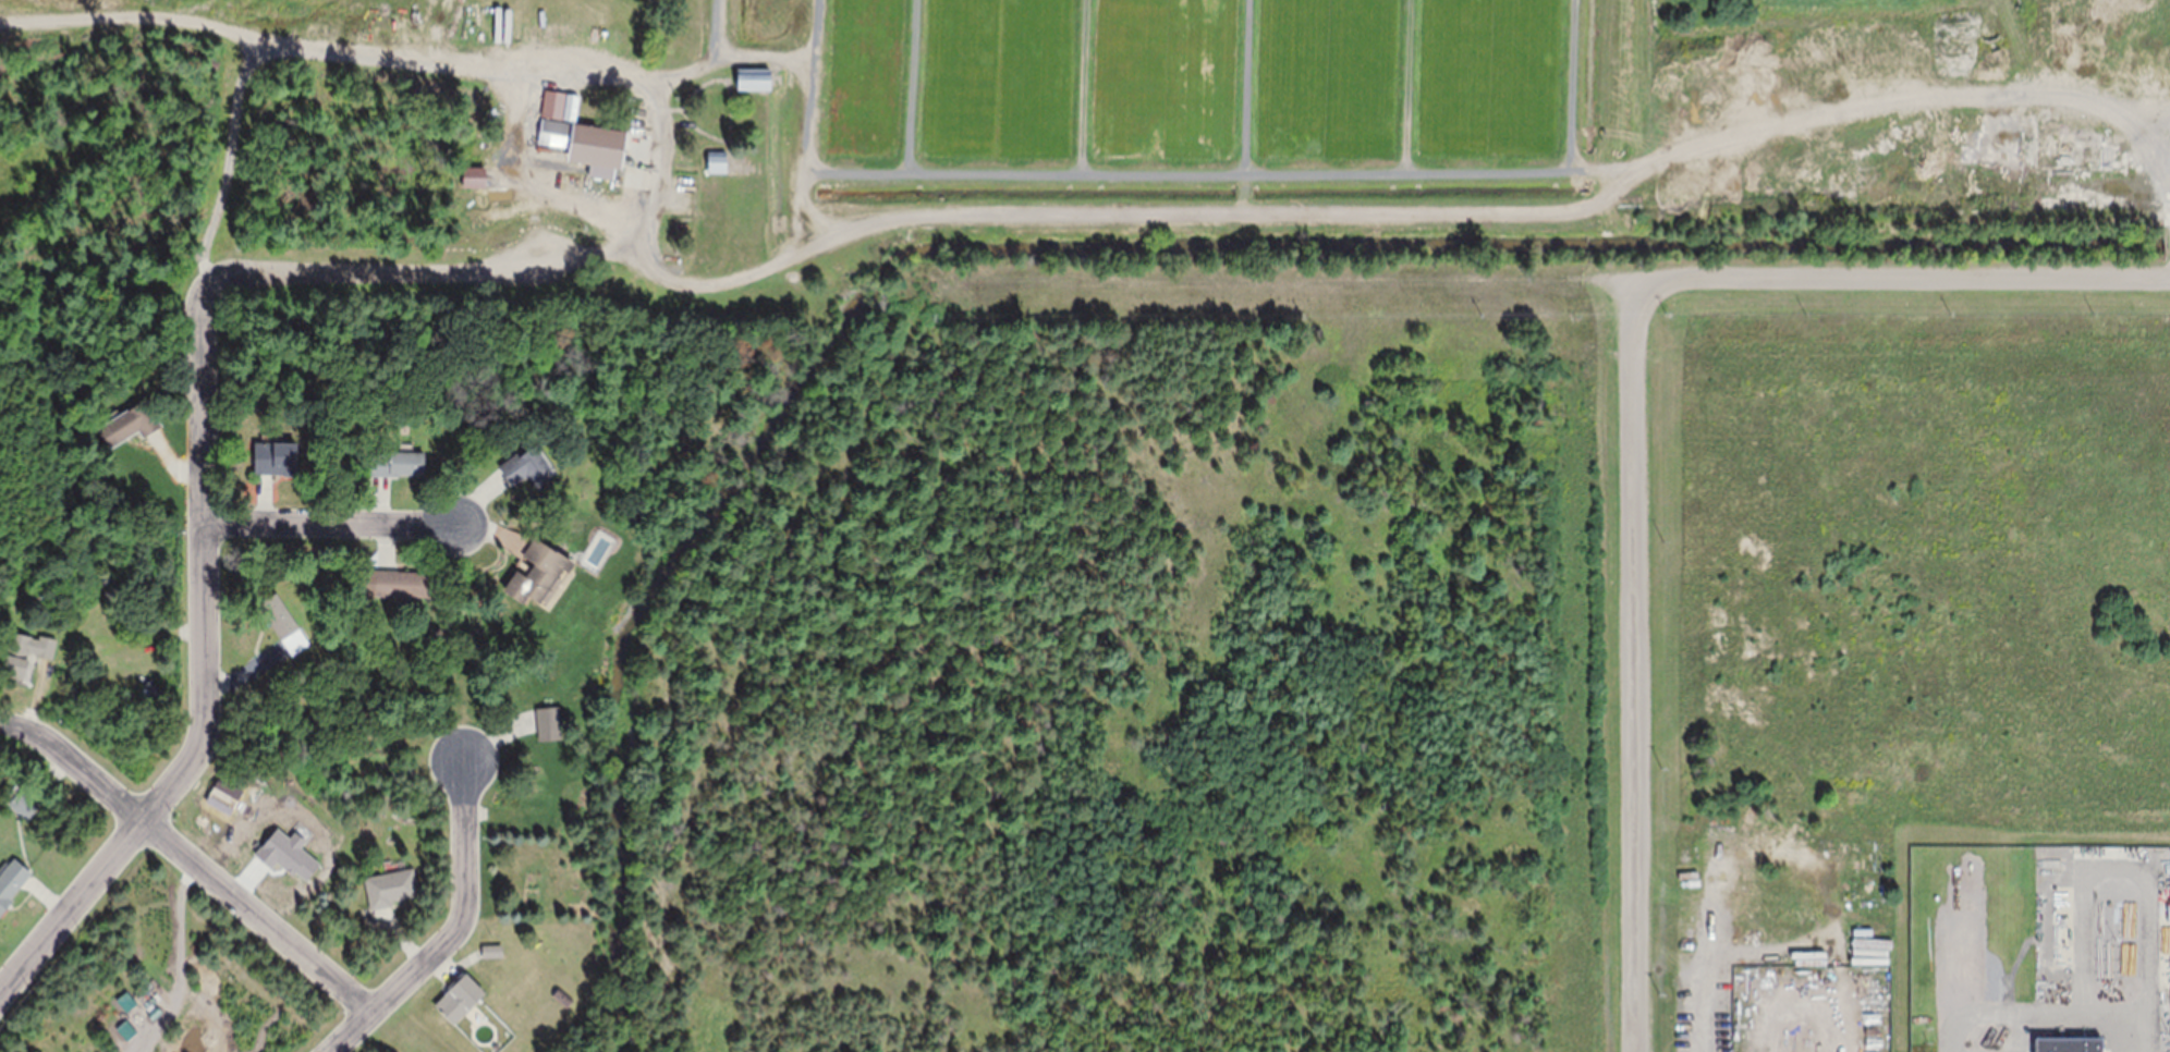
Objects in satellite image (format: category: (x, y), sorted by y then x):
building: (568, 11)
building: (753, 77)
building: (552, 102)
building: (571, 106)
crop: (1080, 132)
building: (586, 143)
building: (491, 154)
building: (717, 160)
building: (2167, 168)
building: (465, 175)
road: (1450, 265)
building: (796, 268)
road: (389, 272)
building: (129, 423)
building: (277, 456)
building: (397, 462)
building: (526, 466)
road: (332, 523)
road: (206, 546)
building: (538, 572)
building: (402, 582)
building: (284, 621)
building: (439, 629)
building: (25, 650)
road: (1646, 661)
building: (153, 686)
building: (549, 722)
building: (388, 798)
building: (23, 802)
road: (188, 856)
building: (12, 881)
building: (390, 886)
road: (71, 901)
road: (455, 930)
building: (492, 950)
building: (460, 996)
building: (562, 996)
building: (2068, 1044)
building: (497, 1045)
building: (1807, 1045)

